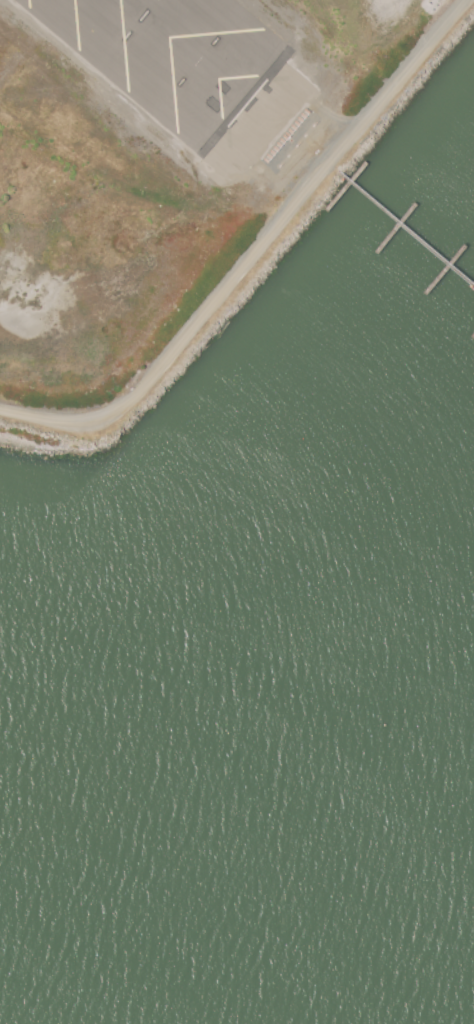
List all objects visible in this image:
airport: (172, 180)
pier: (411, 231)

